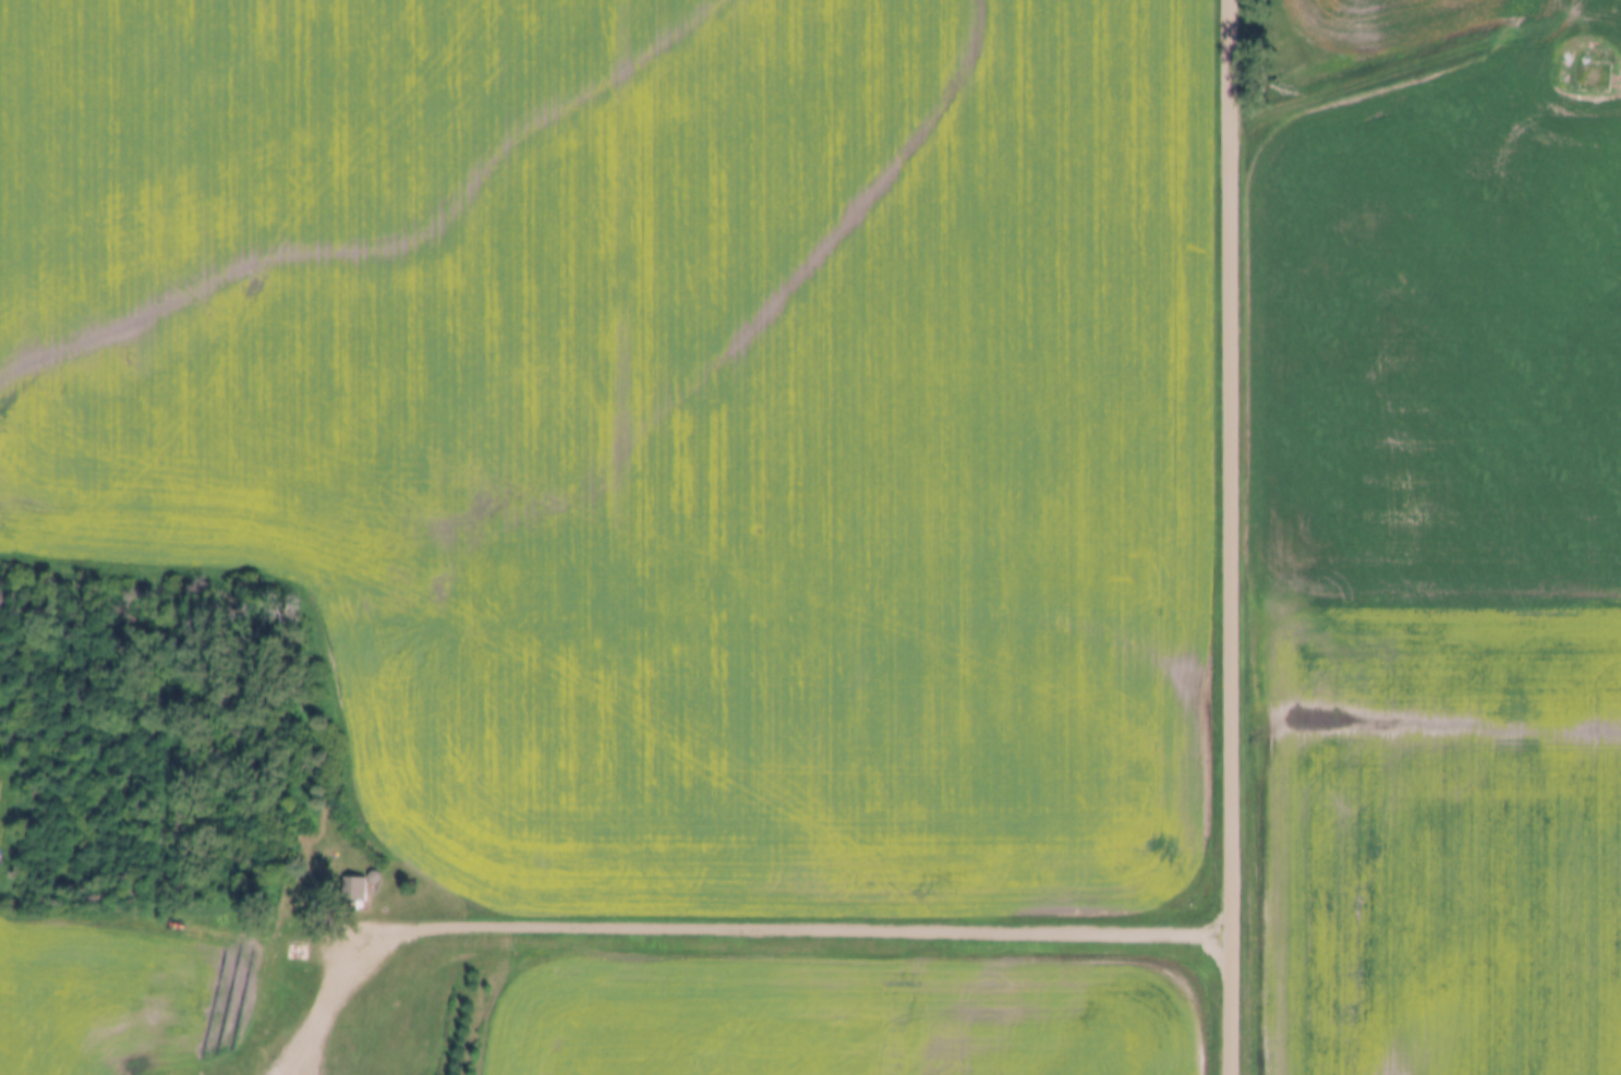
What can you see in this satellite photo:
road: (1423, 59)
road: (1236, 536)
building: (366, 887)
road: (726, 929)

